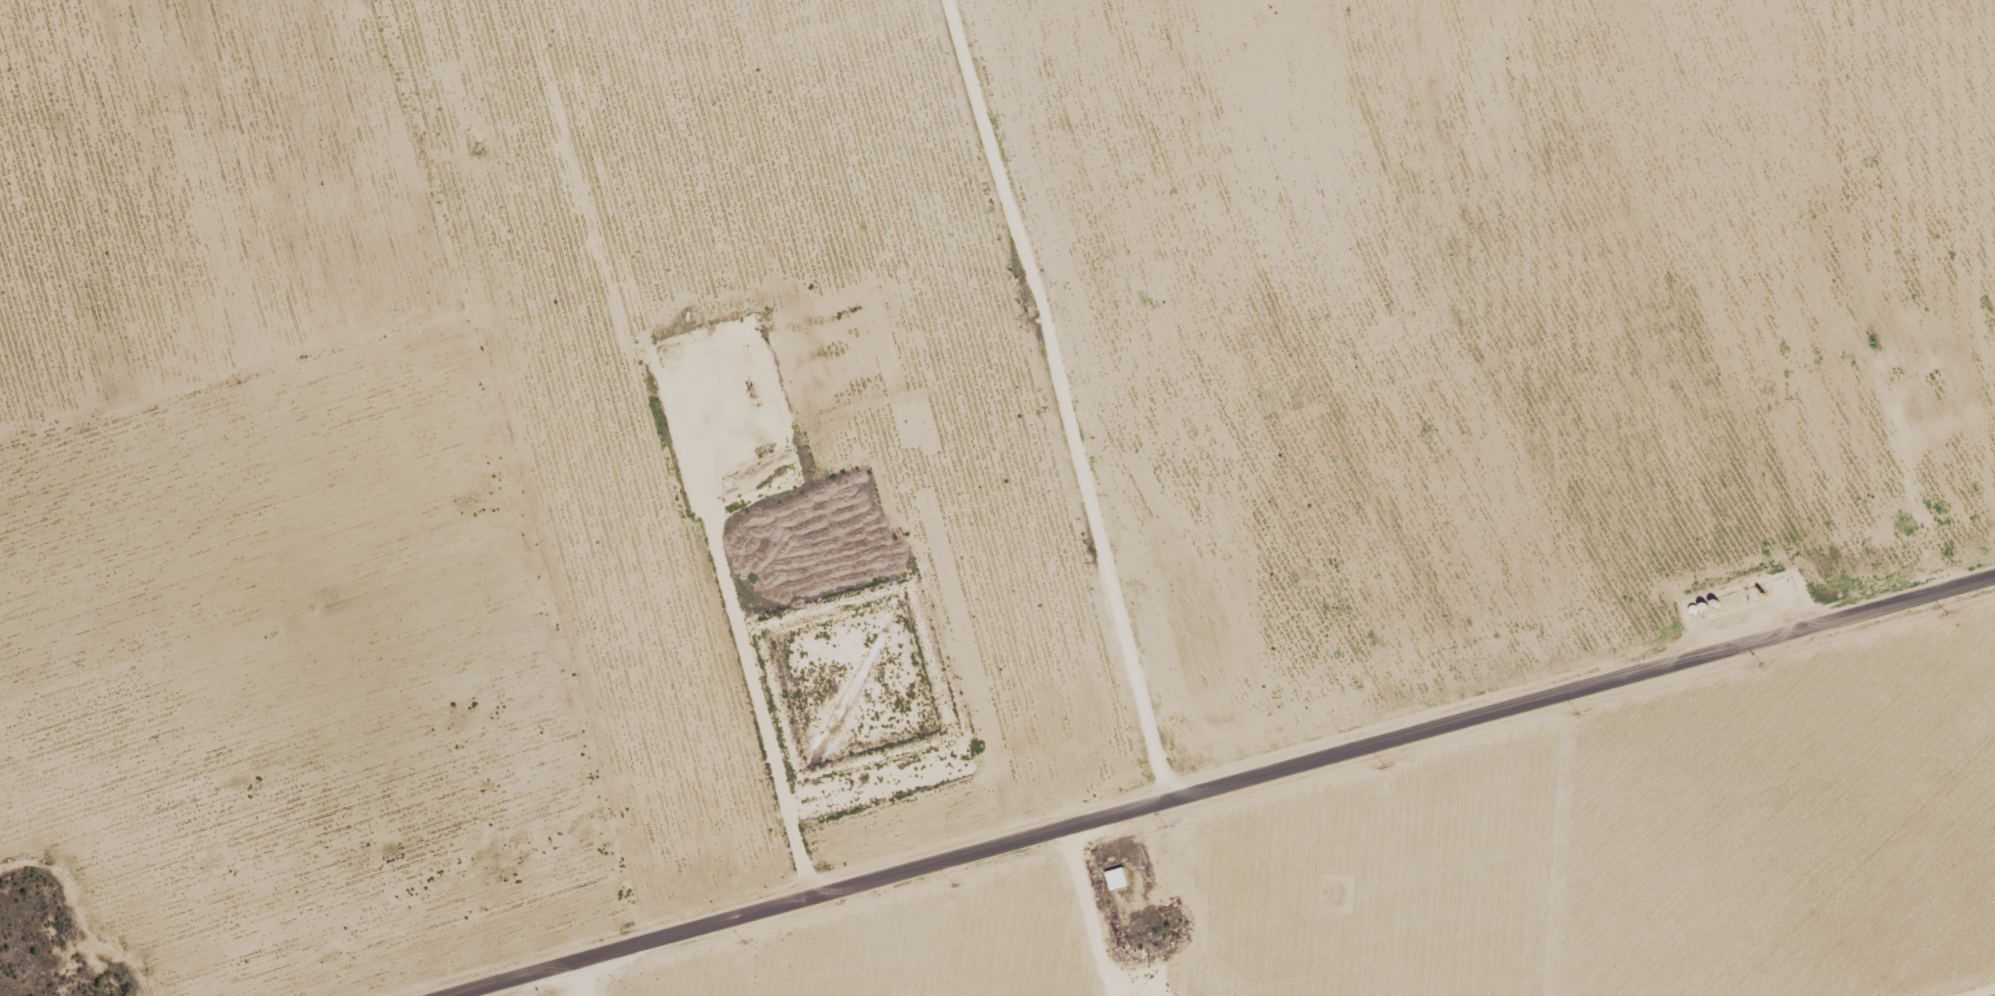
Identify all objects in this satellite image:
road: (1242, 787)
building: (1118, 877)

